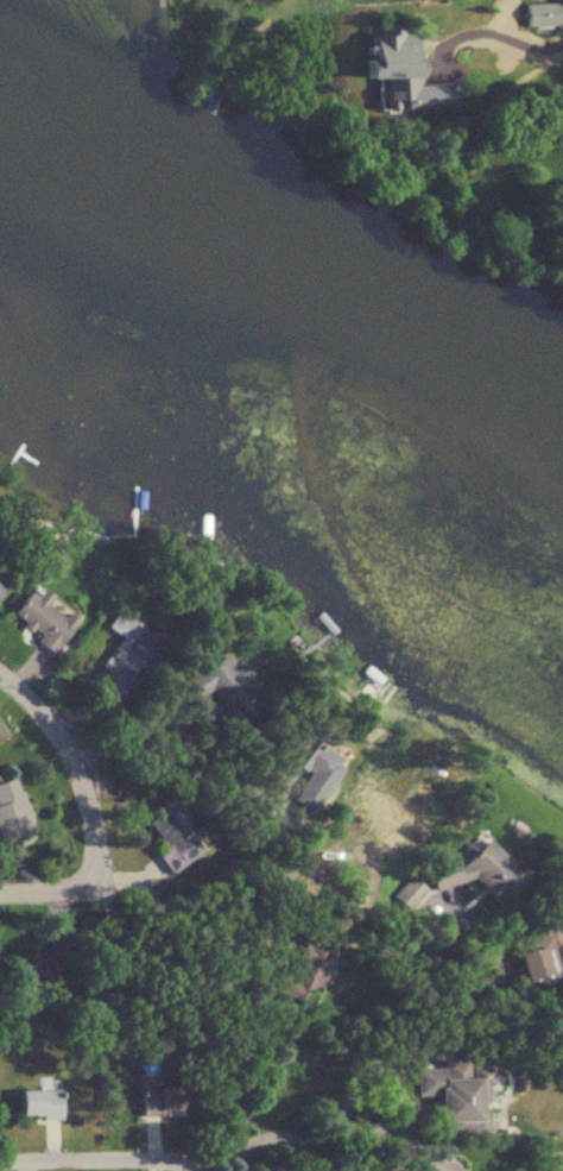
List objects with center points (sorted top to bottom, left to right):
building: (540, 13)
road: (472, 40)
building: (401, 73)
river: (281, 340)
building: (0, 581)
building: (39, 618)
building: (124, 651)
building: (222, 690)
building: (308, 762)
road: (86, 793)
road: (232, 793)
building: (381, 810)
building: (12, 812)
building: (170, 825)
building: (477, 873)
road: (13, 892)
building: (409, 893)
building: (310, 955)
road: (382, 957)
building: (43, 965)
building: (534, 965)
building: (455, 1097)
building: (159, 1101)
building: (37, 1104)
road: (295, 1138)
road: (100, 1157)
road: (198, 1165)
road: (323, 1169)

